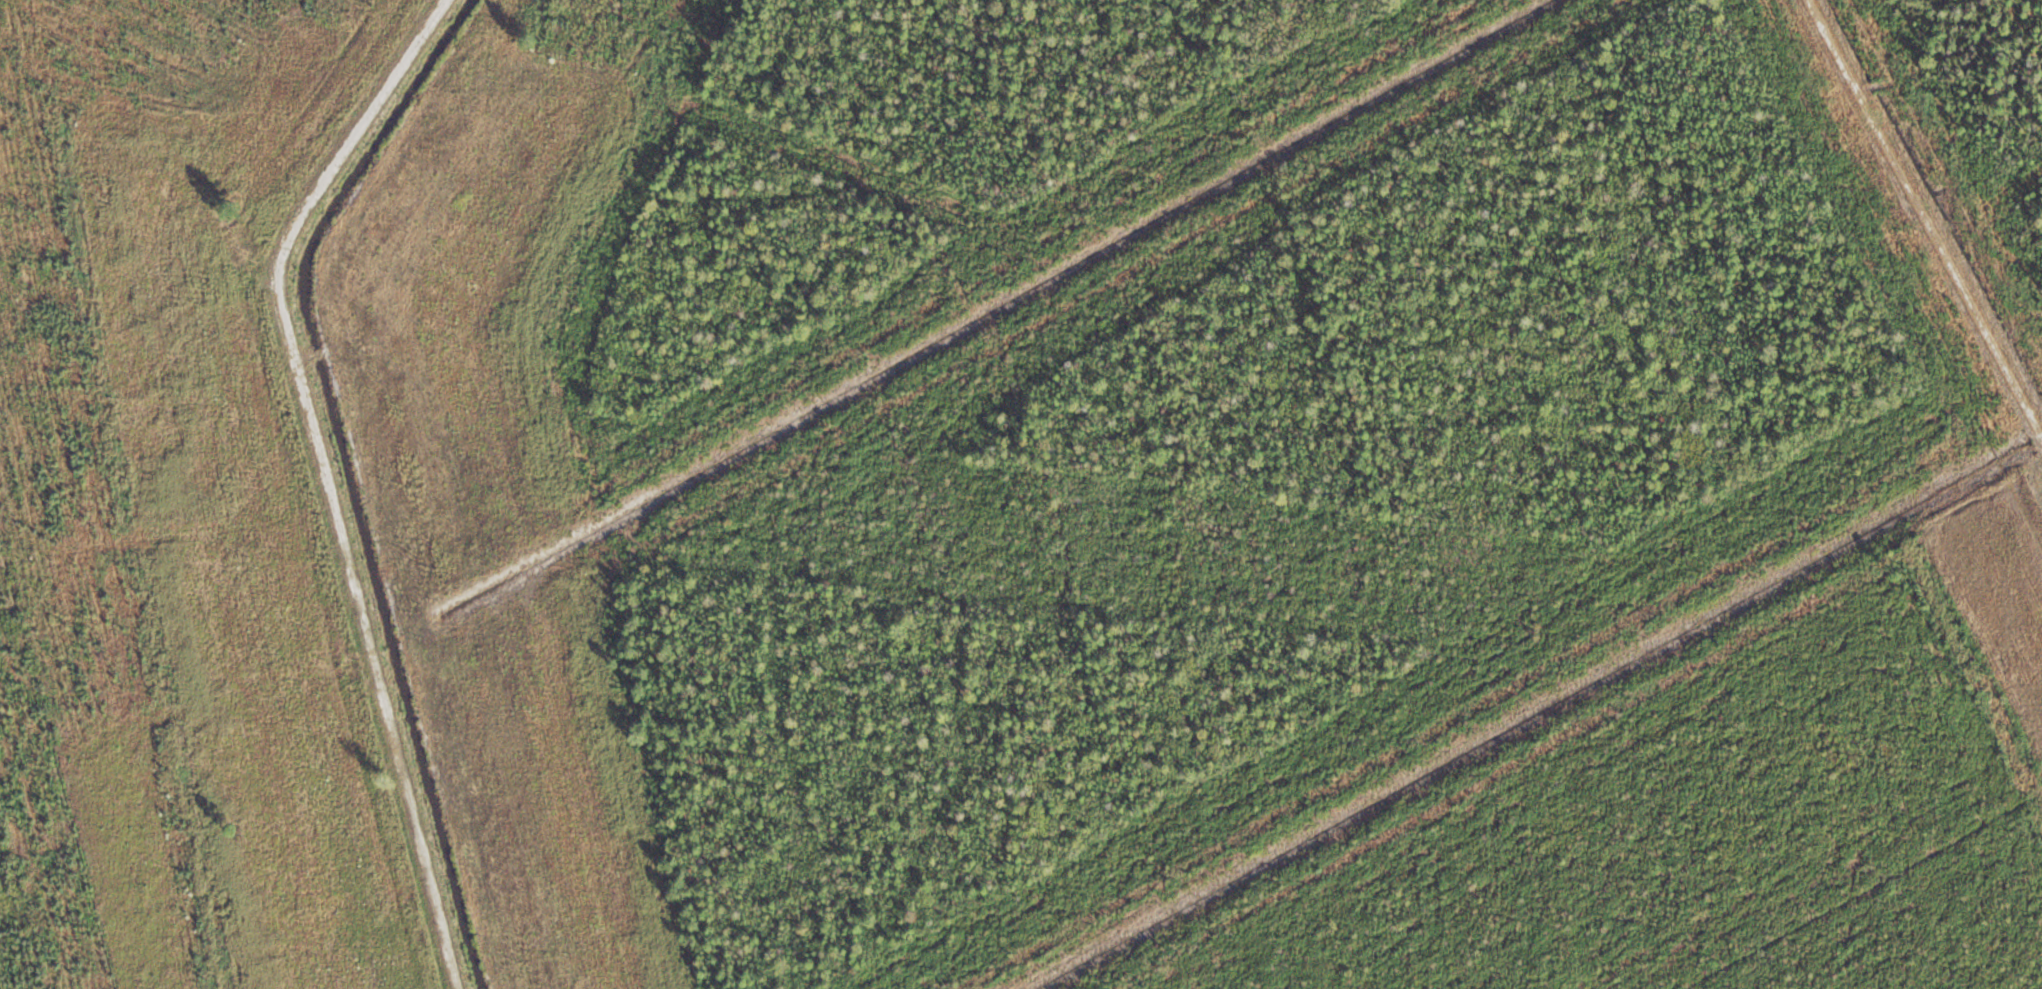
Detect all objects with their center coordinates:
road: (280, 468)
road: (2039, 676)

